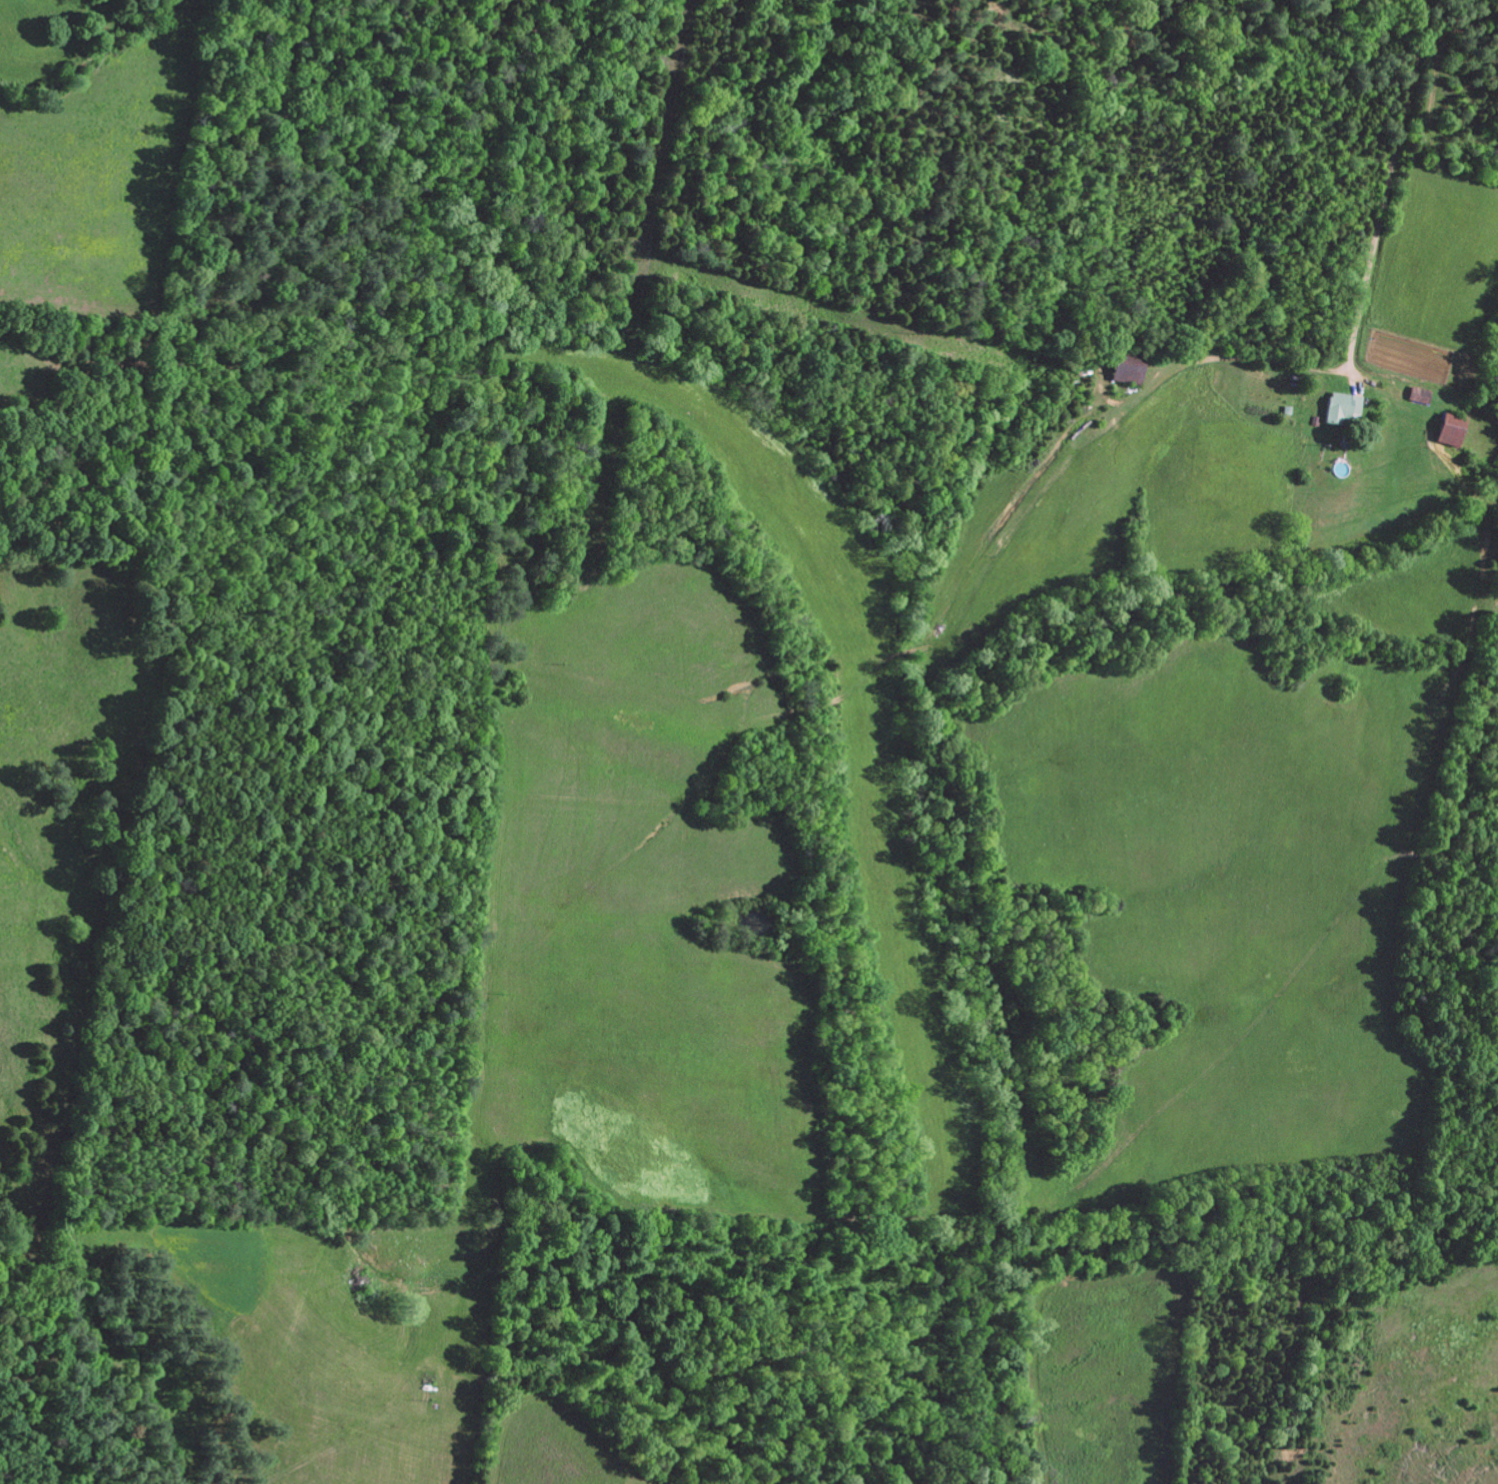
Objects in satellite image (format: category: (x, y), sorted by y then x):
road: (1396, 225)
building: (1129, 368)
building: (1421, 395)
building: (1343, 407)
building: (1452, 430)

